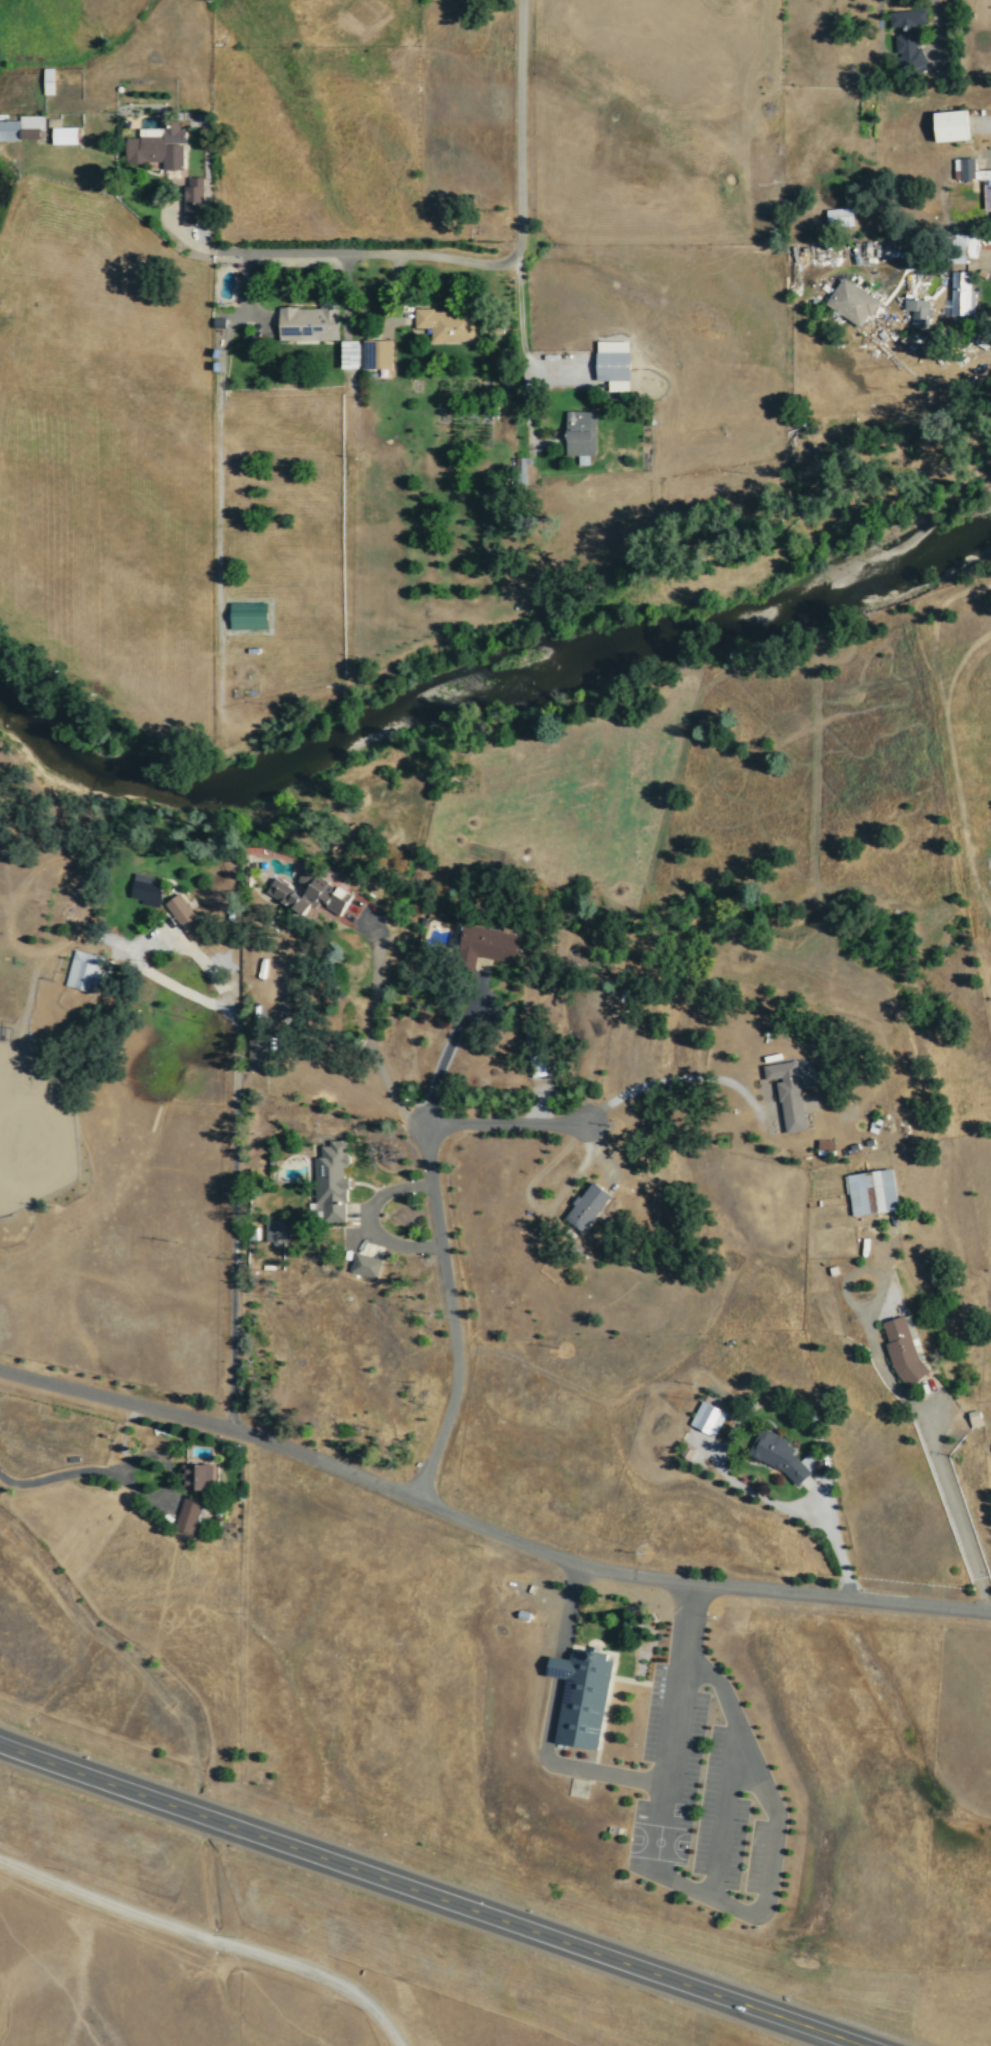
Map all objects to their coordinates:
building: (907, 37)
building: (46, 81)
building: (947, 126)
building: (21, 128)
building: (60, 133)
building: (155, 147)
building: (976, 178)
building: (190, 201)
building: (837, 217)
road: (337, 253)
road: (512, 267)
building: (958, 296)
building: (850, 302)
building: (917, 312)
building: (307, 323)
building: (374, 354)
building: (346, 355)
building: (610, 361)
building: (578, 431)
building: (246, 615)
river: (619, 647)
river: (113, 779)
building: (144, 888)
building: (322, 892)
building: (286, 896)
building: (181, 915)
building: (486, 941)
building: (82, 970)
building: (532, 1050)
building: (787, 1093)
road: (348, 1125)
road: (503, 1125)
building: (329, 1181)
building: (870, 1191)
building: (585, 1207)
building: (276, 1231)
building: (252, 1233)
building: (364, 1265)
road: (447, 1315)
building: (903, 1348)
building: (706, 1418)
building: (973, 1418)
building: (776, 1455)
building: (194, 1476)
building: (186, 1515)
road: (486, 1529)
building: (580, 1701)
road: (607, 1773)
park: (658, 1842)
road: (765, 1879)
road: (424, 1897)
road: (208, 1942)

